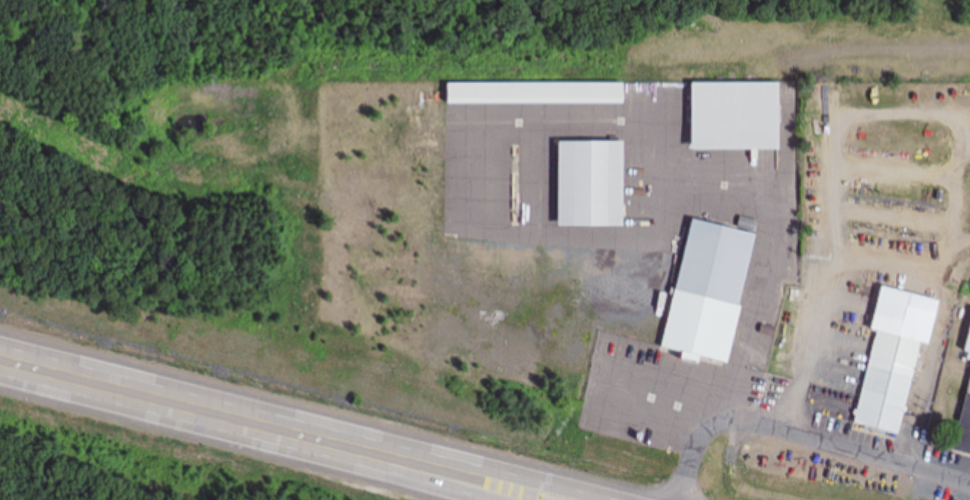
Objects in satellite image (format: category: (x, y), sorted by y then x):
building: (530, 94)
building: (730, 117)
building: (584, 185)
building: (703, 294)
building: (966, 338)
building: (892, 358)
road: (602, 372)
road: (132, 391)
building: (963, 424)
road: (804, 436)
road: (439, 458)
road: (376, 464)

